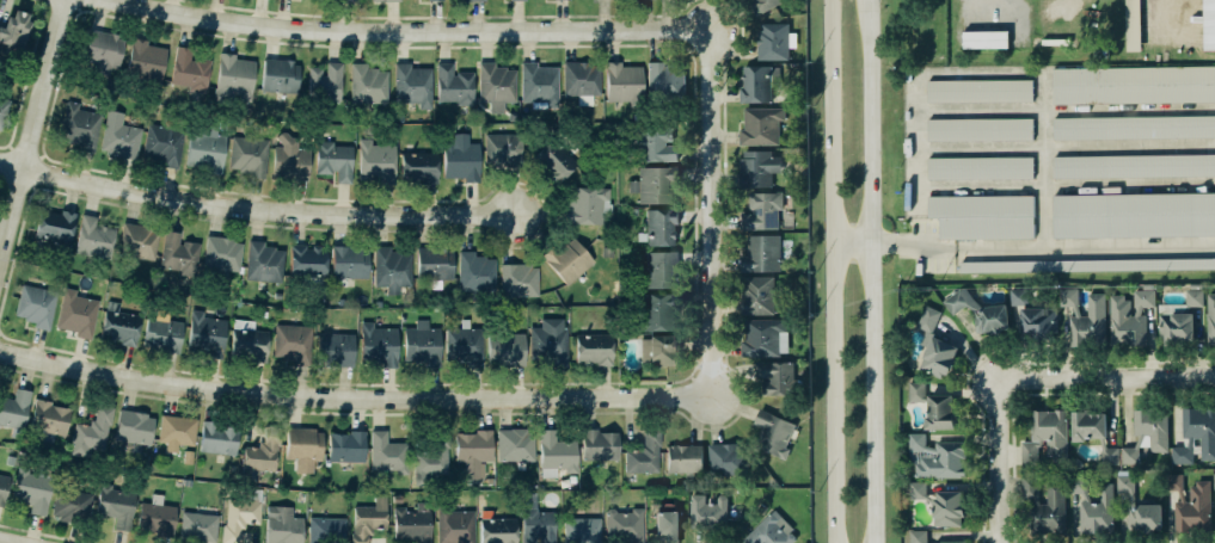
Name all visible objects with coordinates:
road: (983, 1)
building: (766, 5)
road: (1061, 10)
building: (1209, 24)
building: (1133, 25)
building: (14, 29)
landfill: (1078, 31)
road: (400, 33)
building: (983, 39)
building: (771, 41)
building: (104, 50)
building: (145, 62)
building: (188, 68)
road: (977, 72)
building: (277, 74)
building: (579, 76)
building: (233, 78)
building: (663, 80)
building: (324, 81)
building: (493, 81)
building: (536, 81)
building: (621, 81)
building: (367, 82)
building: (411, 84)
building: (453, 84)
building: (754, 85)
building: (1134, 85)
building: (980, 91)
building: (2, 106)
road: (1064, 106)
road: (31, 125)
building: (759, 125)
building: (79, 127)
building: (1134, 128)
building: (980, 129)
building: (118, 136)
road: (914, 138)
building: (162, 143)
building: (655, 144)
road: (1064, 146)
building: (205, 148)
building: (502, 149)
building: (247, 154)
road: (1042, 154)
building: (459, 155)
building: (288, 158)
building: (331, 159)
building: (375, 160)
building: (552, 160)
building: (418, 165)
building: (1134, 166)
building: (756, 168)
building: (980, 168)
building: (651, 184)
road: (1064, 185)
building: (585, 205)
building: (761, 210)
road: (253, 212)
building: (1134, 215)
building: (983, 216)
road: (706, 217)
building: (54, 224)
building: (659, 226)
building: (92, 236)
building: (137, 241)
road: (871, 242)
road: (1061, 243)
building: (220, 252)
building: (177, 253)
building: (760, 254)
building: (565, 258)
building: (307, 260)
building: (262, 261)
building: (348, 261)
building: (435, 263)
building: (1087, 265)
building: (391, 269)
building: (657, 269)
building: (474, 271)
road: (833, 271)
road: (873, 271)
building: (517, 278)
building: (757, 295)
building: (1021, 296)
building: (1193, 297)
building: (1069, 298)
building: (1143, 298)
building: (33, 304)
building: (655, 310)
building: (76, 311)
building: (980, 313)
building: (928, 319)
building: (1210, 319)
building: (1038, 322)
building: (1090, 323)
building: (1125, 323)
building: (119, 325)
building: (1177, 328)
building: (203, 331)
road: (0, 332)
building: (162, 334)
building: (761, 337)
building: (247, 340)
building: (550, 340)
building: (293, 341)
building: (376, 341)
building: (421, 343)
building: (465, 344)
road: (996, 345)
building: (593, 347)
building: (335, 348)
building: (507, 348)
building: (658, 348)
building: (939, 357)
road: (4, 368)
road: (1107, 375)
building: (775, 377)
building: (916, 390)
road: (1041, 391)
road: (351, 400)
building: (14, 409)
building: (940, 412)
building: (50, 416)
building: (131, 425)
street lamp: (986, 427)
building: (1152, 427)
building: (176, 428)
building: (90, 431)
building: (772, 432)
building: (1094, 433)
building: (1196, 434)
building: (1045, 437)
building: (219, 438)
building: (596, 443)
building: (515, 444)
building: (302, 446)
building: (345, 446)
building: (472, 450)
building: (554, 450)
building: (262, 453)
building: (385, 455)
building: (644, 455)
building: (1129, 455)
building: (432, 456)
building: (682, 457)
building: (725, 458)
building: (937, 458)
road: (995, 461)
building: (1214, 480)
building: (1124, 483)
building: (1079, 486)
building: (4, 487)
building: (918, 489)
building: (31, 490)
building: (1055, 501)
building: (72, 504)
building: (115, 504)
building: (1191, 504)
building: (949, 508)
building: (705, 511)
building: (1098, 512)
building: (155, 516)
building: (237, 517)
building: (1145, 517)
building: (369, 519)
building: (622, 522)
building: (410, 524)
building: (282, 525)
building: (454, 525)
building: (667, 525)
building: (198, 526)
building: (538, 526)
building: (495, 527)
building: (581, 529)
building: (326, 530)
building: (772, 531)
road: (48, 535)
building: (923, 537)
road: (717, 539)
road: (5, 541)

